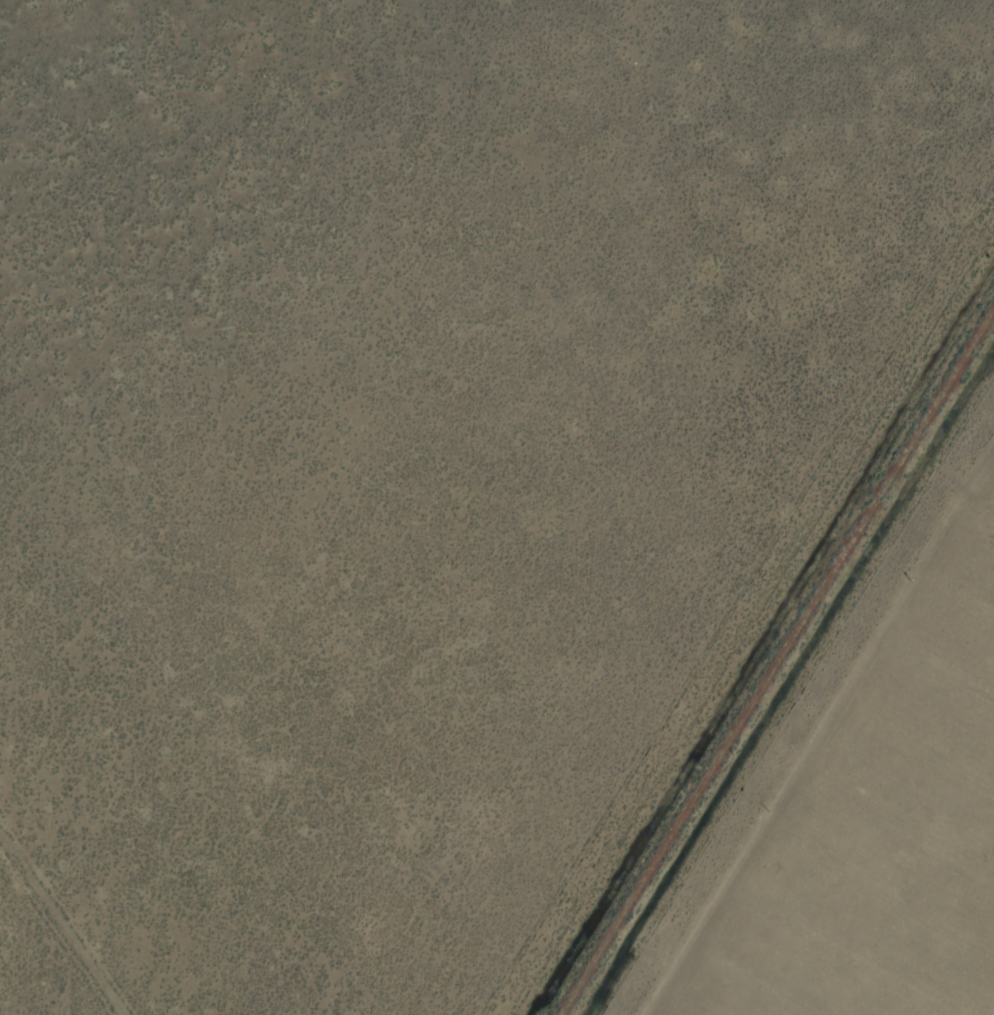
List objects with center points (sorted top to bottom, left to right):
road: (788, 679)

